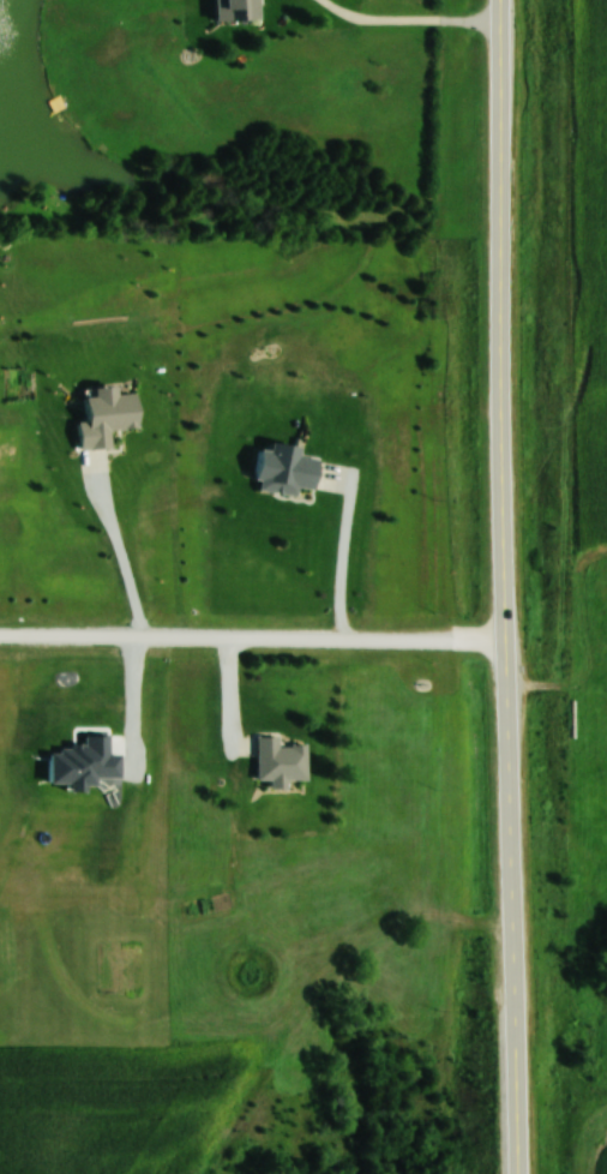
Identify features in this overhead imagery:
building: (238, 8)
road: (409, 26)
building: (107, 414)
building: (287, 468)
road: (112, 552)
road: (335, 552)
road: (505, 587)
road: (253, 642)
building: (282, 761)

